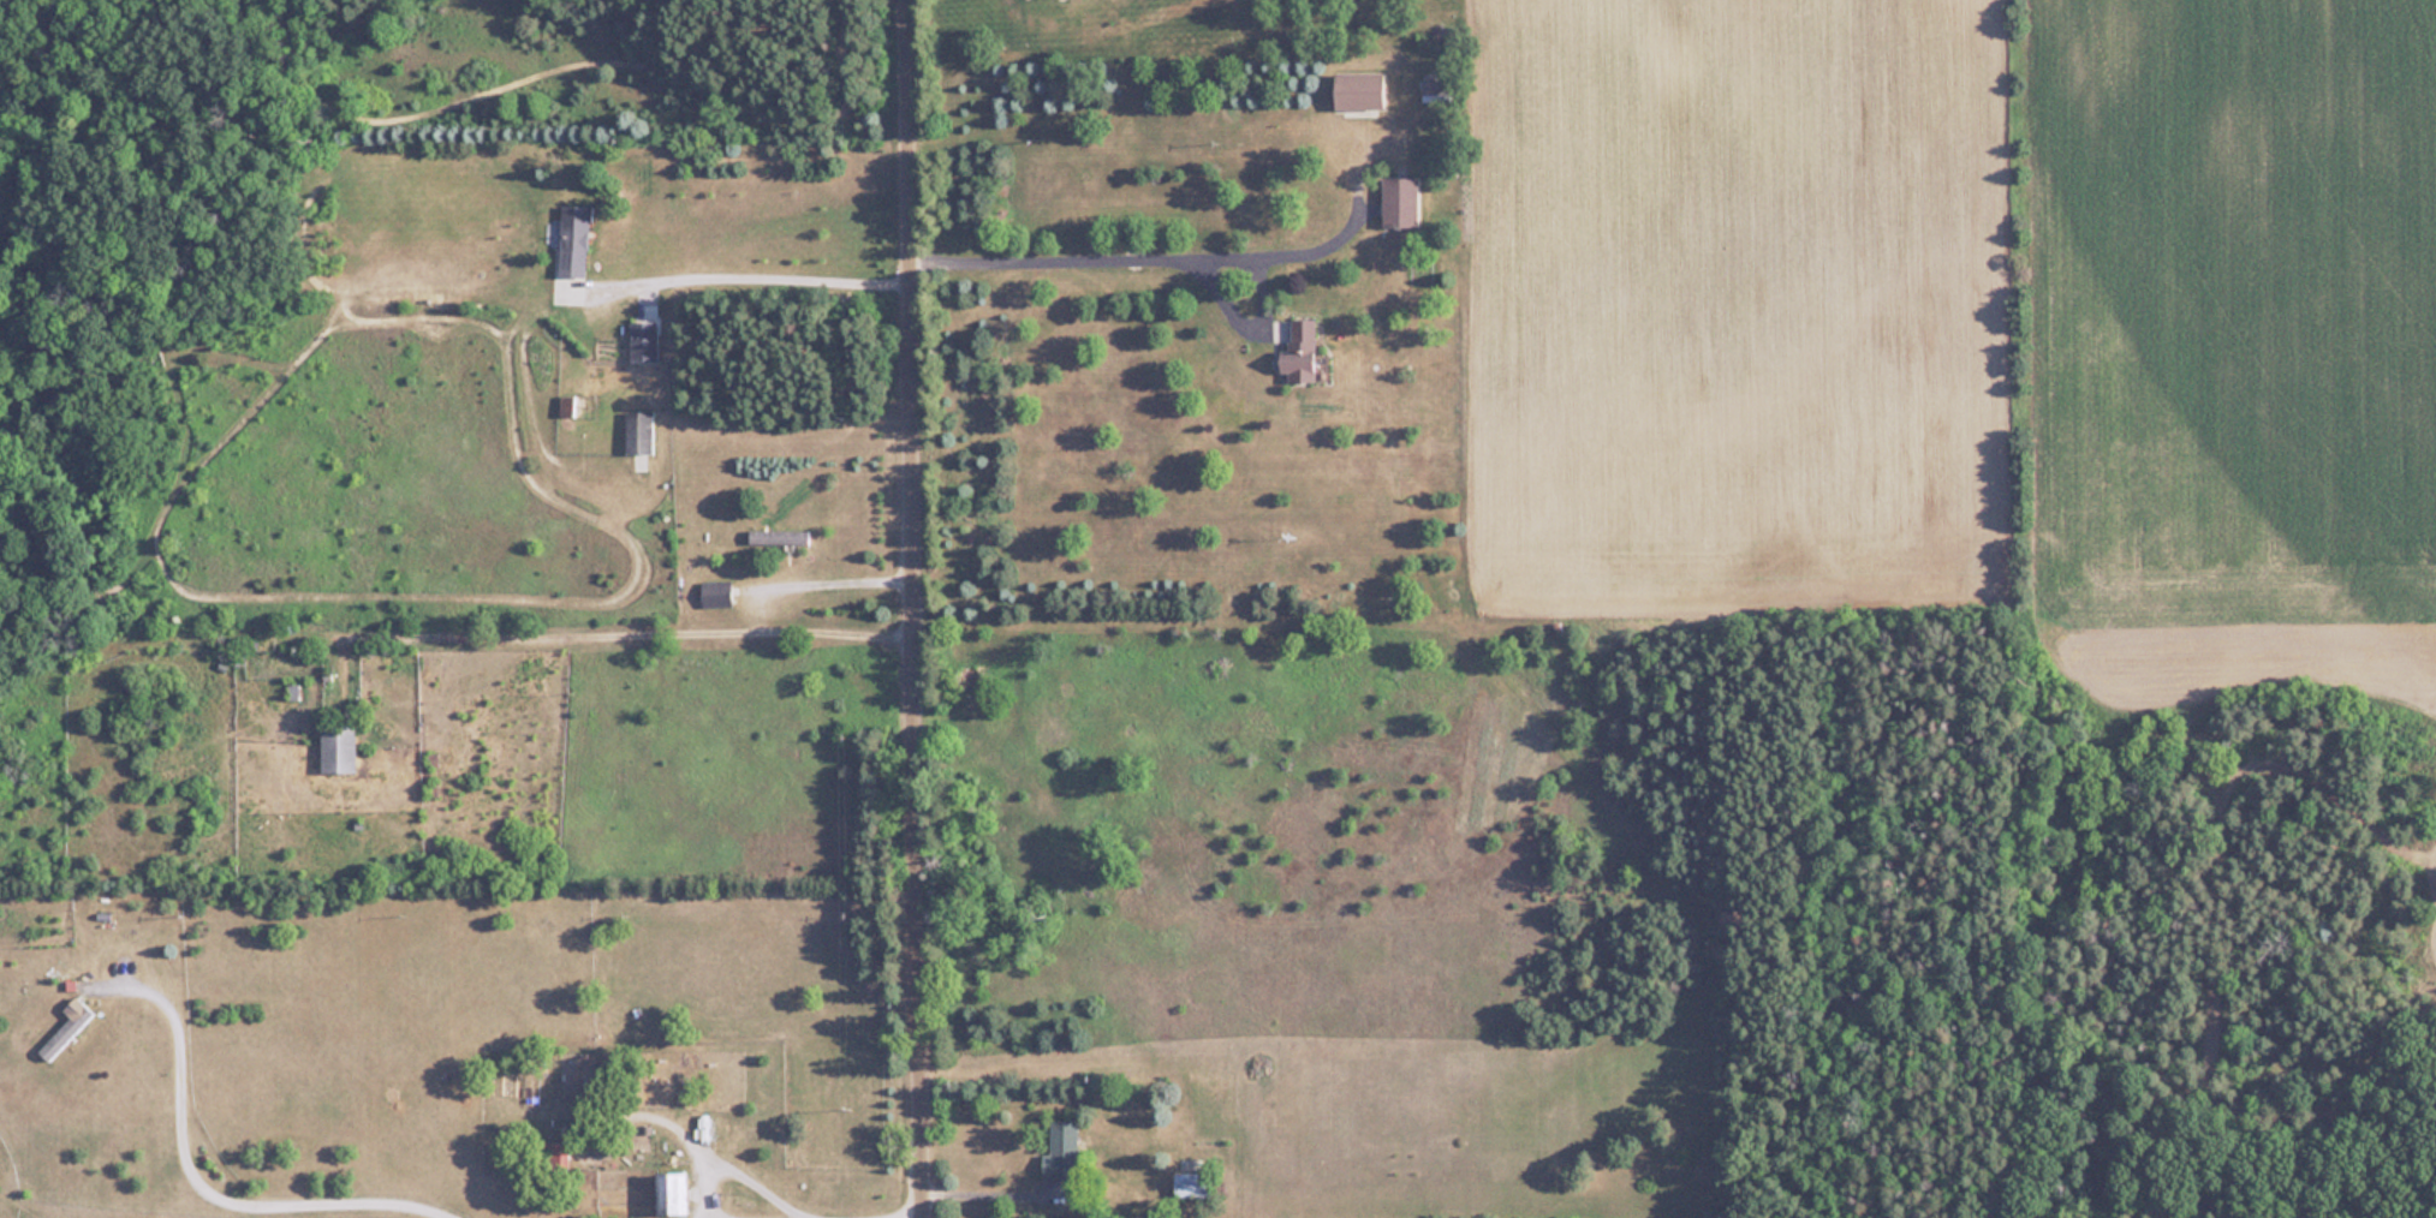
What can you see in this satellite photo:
building: (1358, 89)
building: (1400, 201)
building: (573, 239)
road: (1151, 243)
road: (749, 276)
building: (643, 340)
building: (1300, 348)
building: (576, 405)
building: (637, 431)
building: (778, 536)
building: (715, 592)
road: (911, 609)
building: (336, 744)
building: (64, 1032)
building: (1060, 1150)
building: (556, 1156)
building: (1190, 1184)
road: (198, 1188)
building: (669, 1192)

